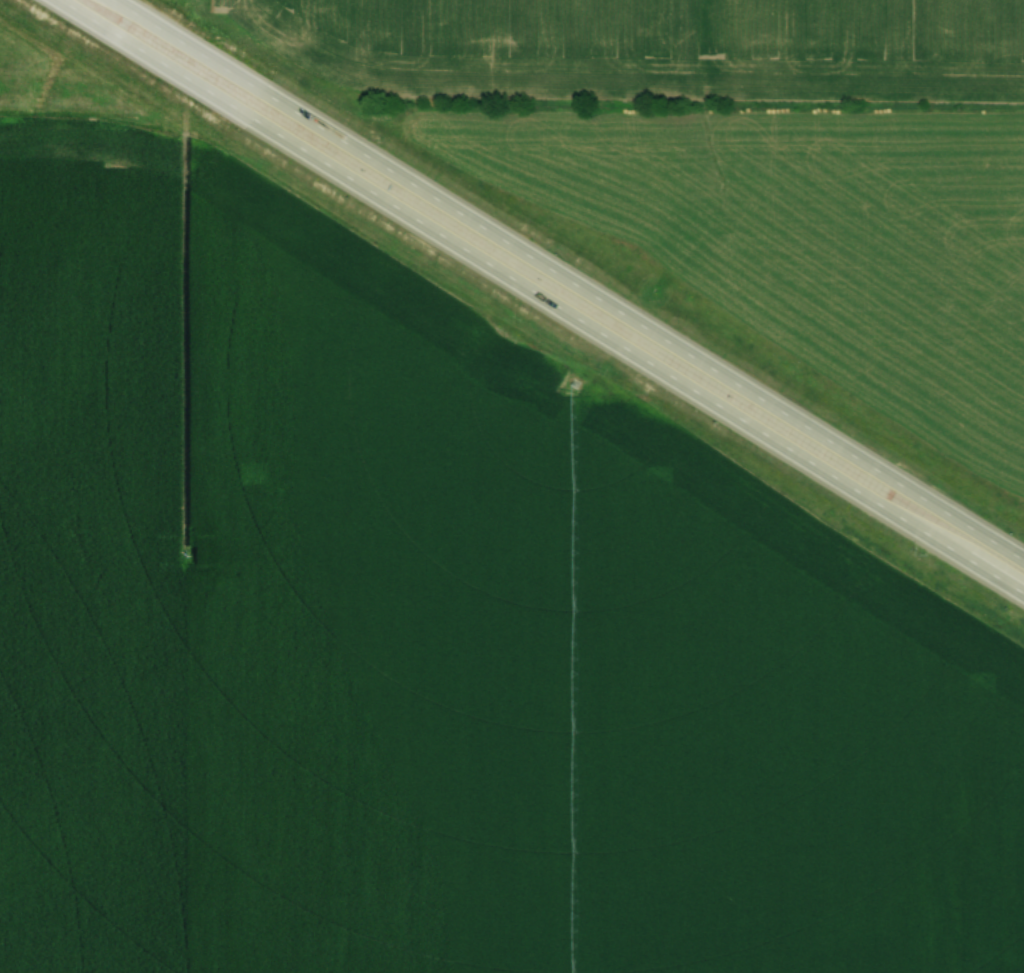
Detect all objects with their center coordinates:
road: (328, 134)
road: (290, 143)
road: (784, 414)
road: (774, 439)

